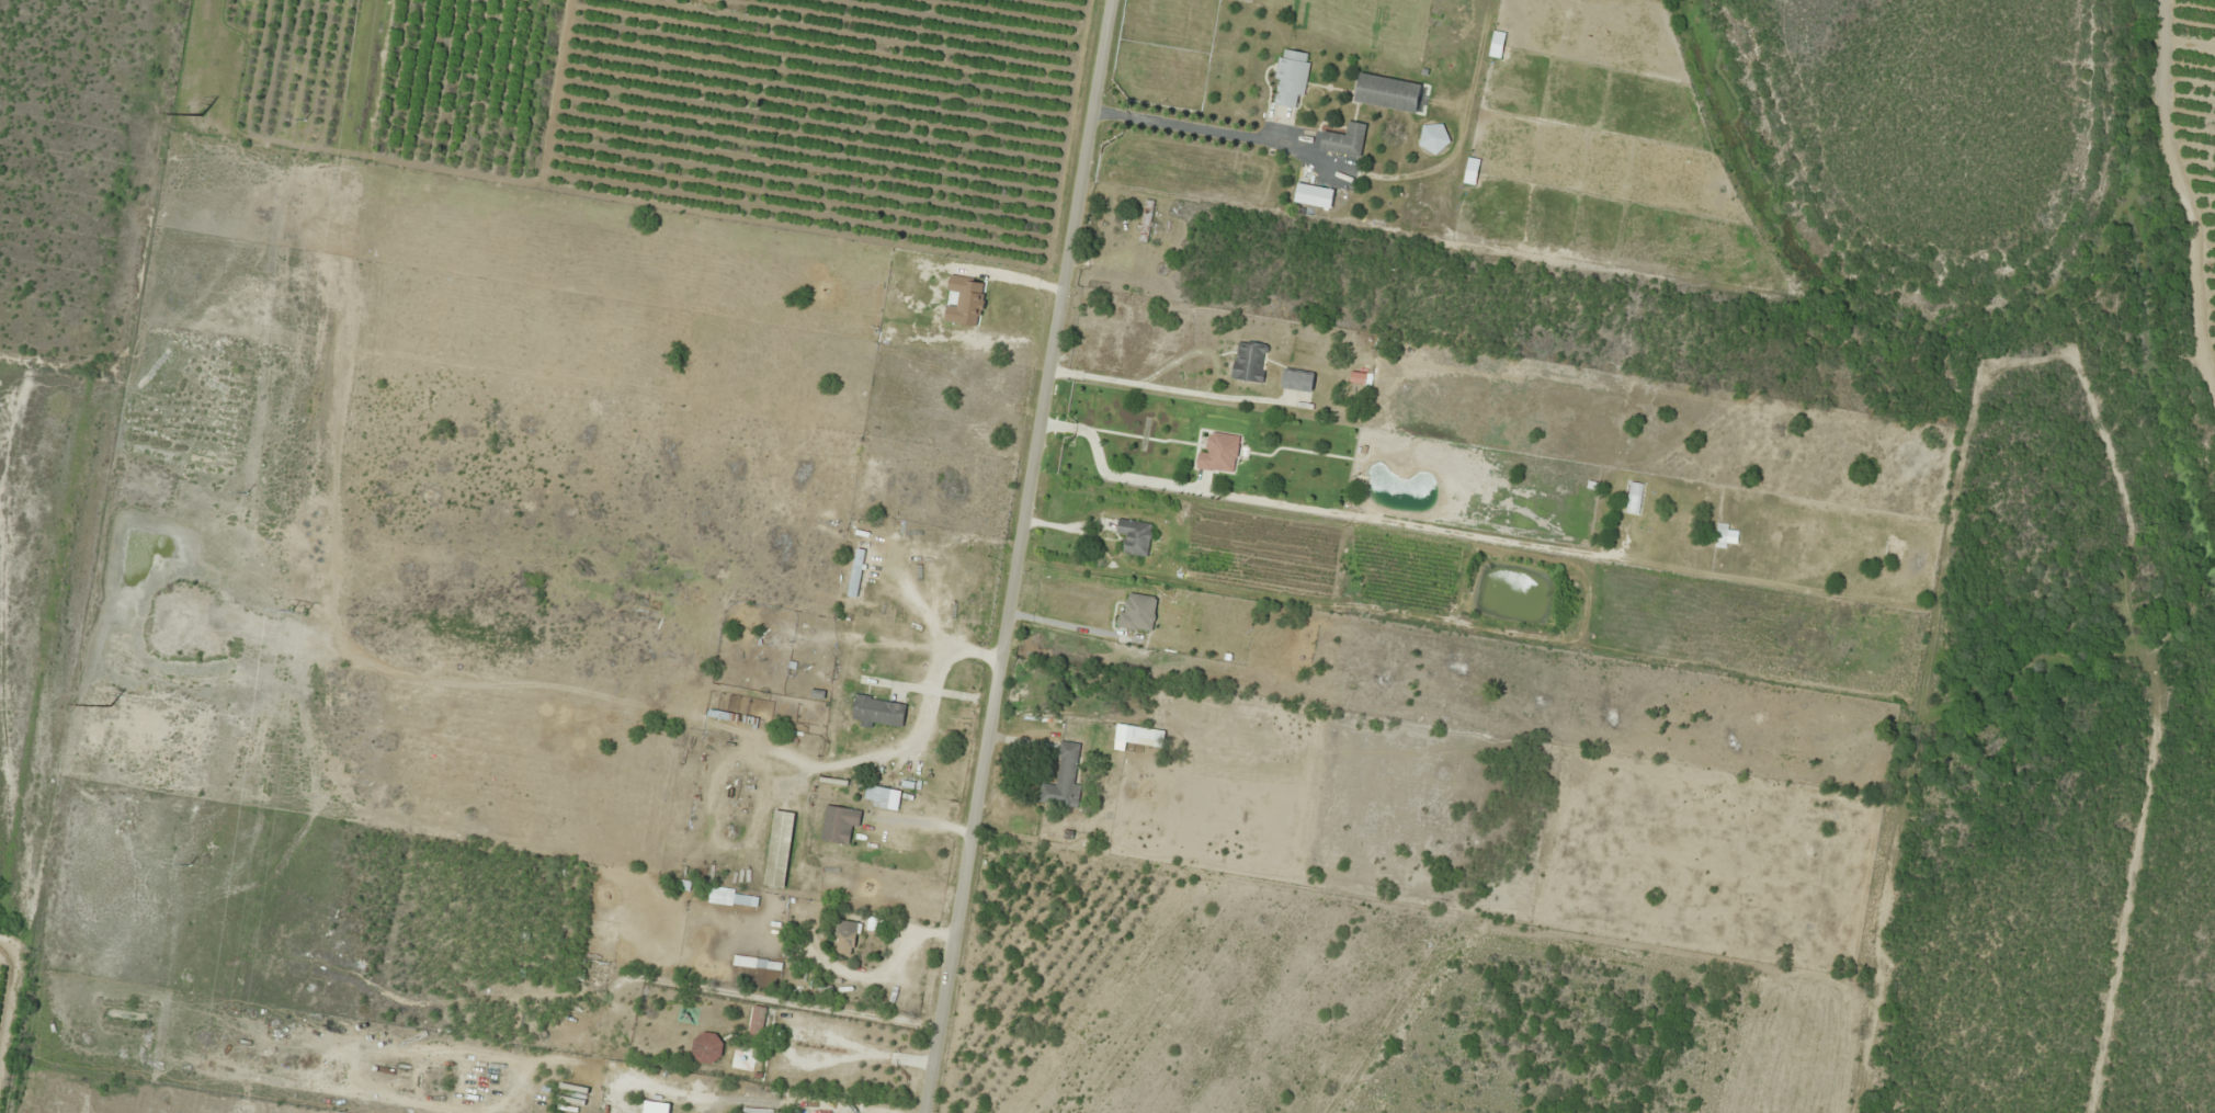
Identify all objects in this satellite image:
building: (1291, 78)
building: (1388, 92)
power tower: (203, 115)
building: (1345, 139)
building: (1146, 220)
building: (1249, 362)
building: (1219, 453)
building: (874, 474)
building: (1634, 498)
building: (1720, 535)
building: (1135, 536)
road: (1020, 556)
building: (856, 572)
power tower: (296, 609)
building: (1138, 612)
power tower: (111, 706)
building: (878, 711)
building: (1144, 736)
building: (1064, 779)
building: (839, 824)
building: (780, 849)
building: (726, 896)
building: (845, 936)
building: (785, 1072)

